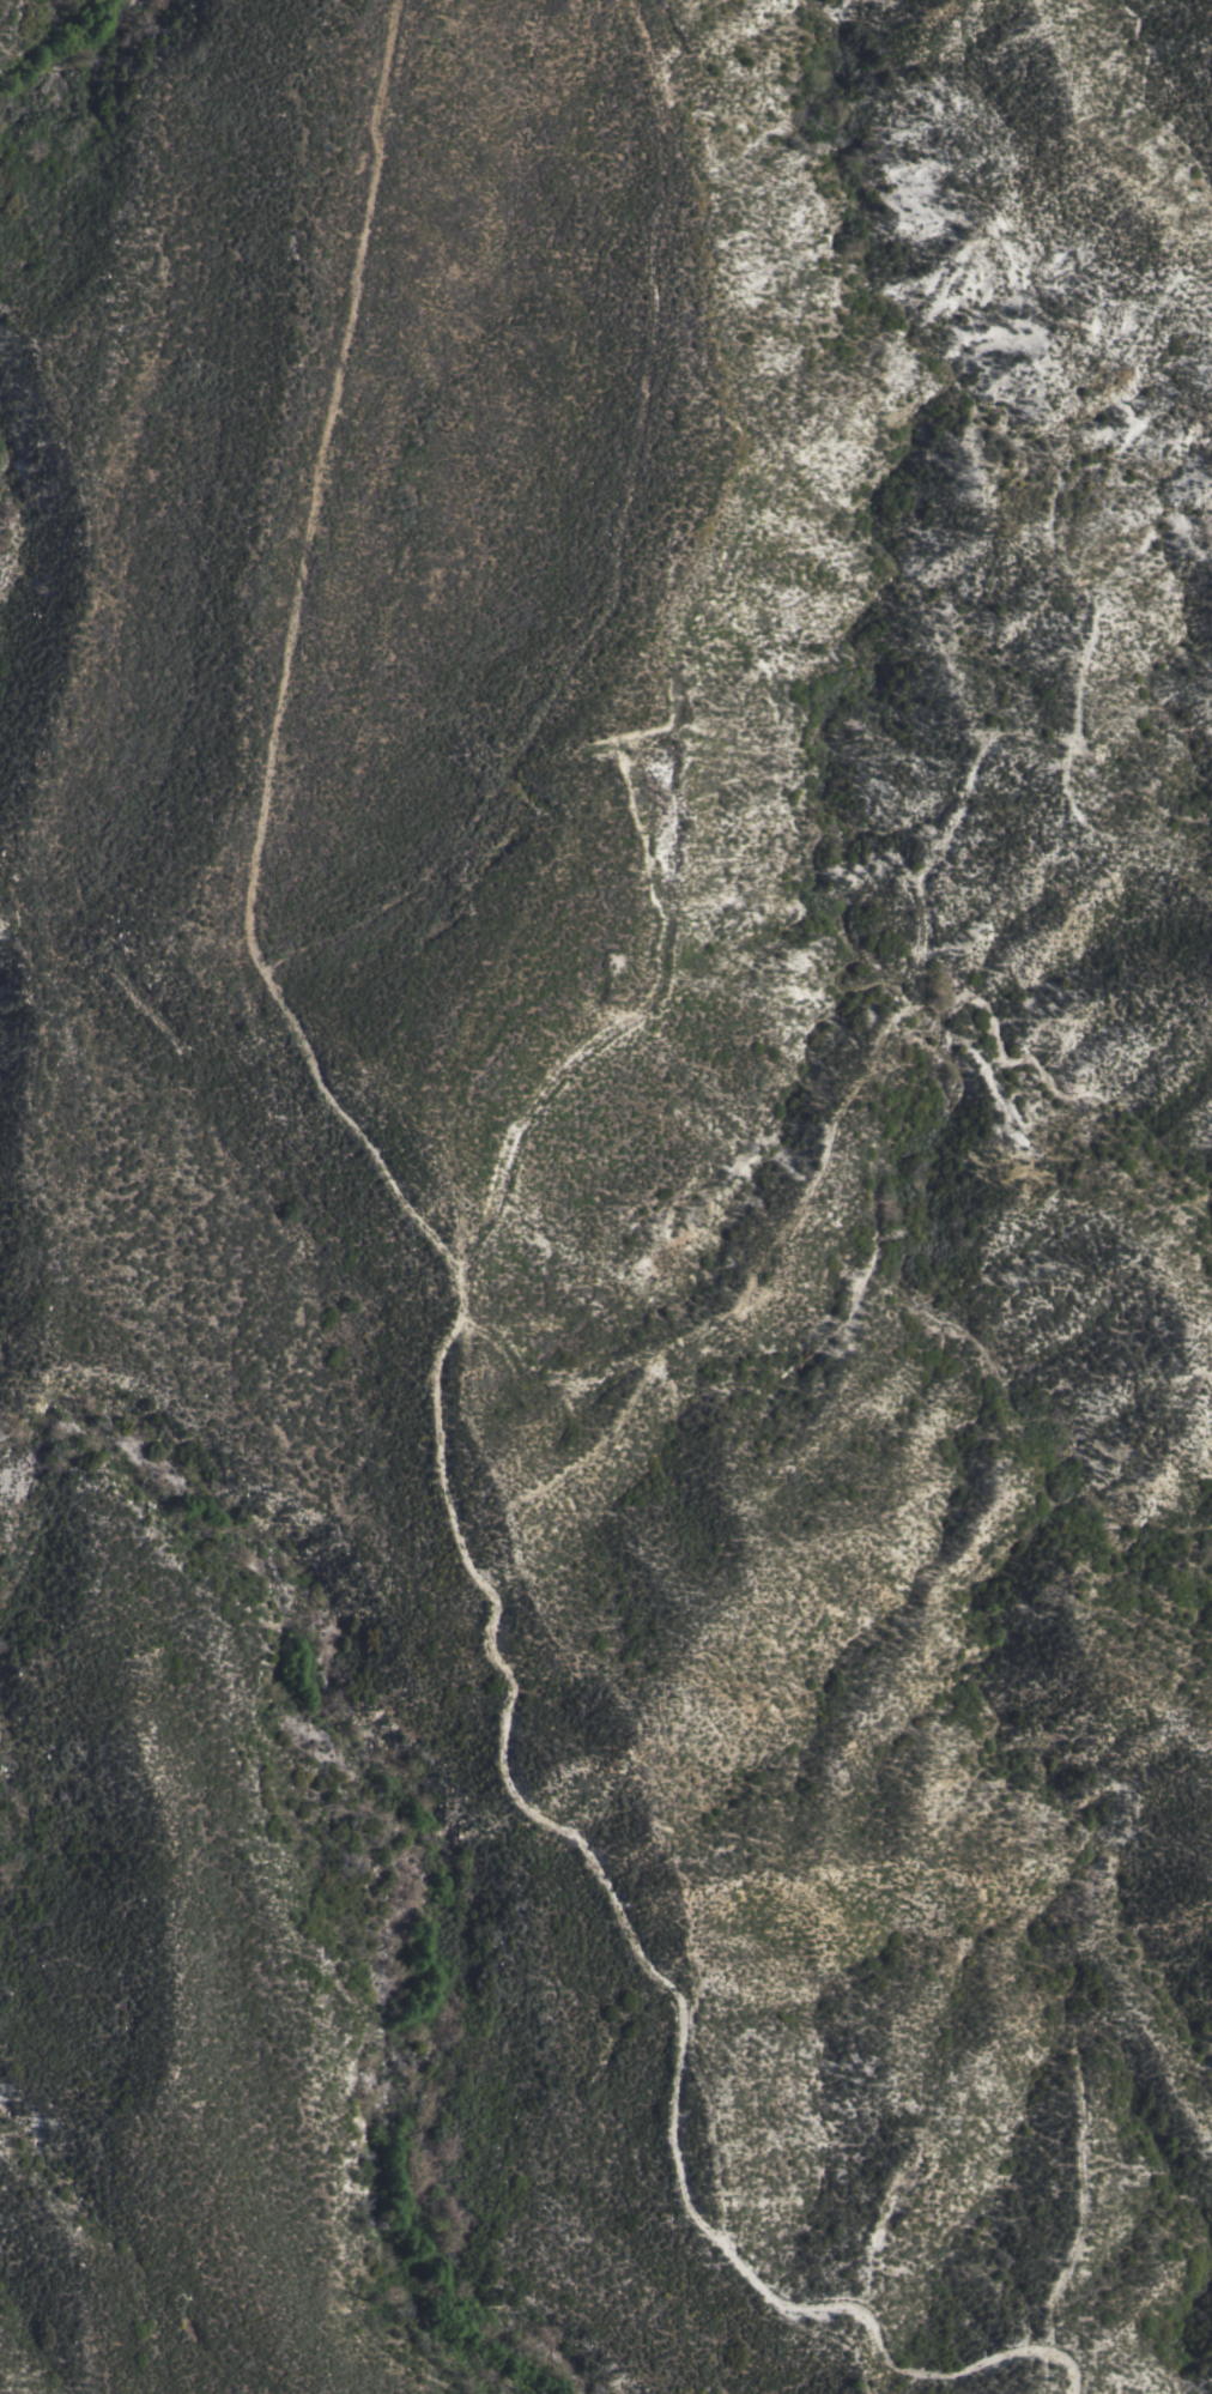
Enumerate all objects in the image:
road: (865, 2325)

